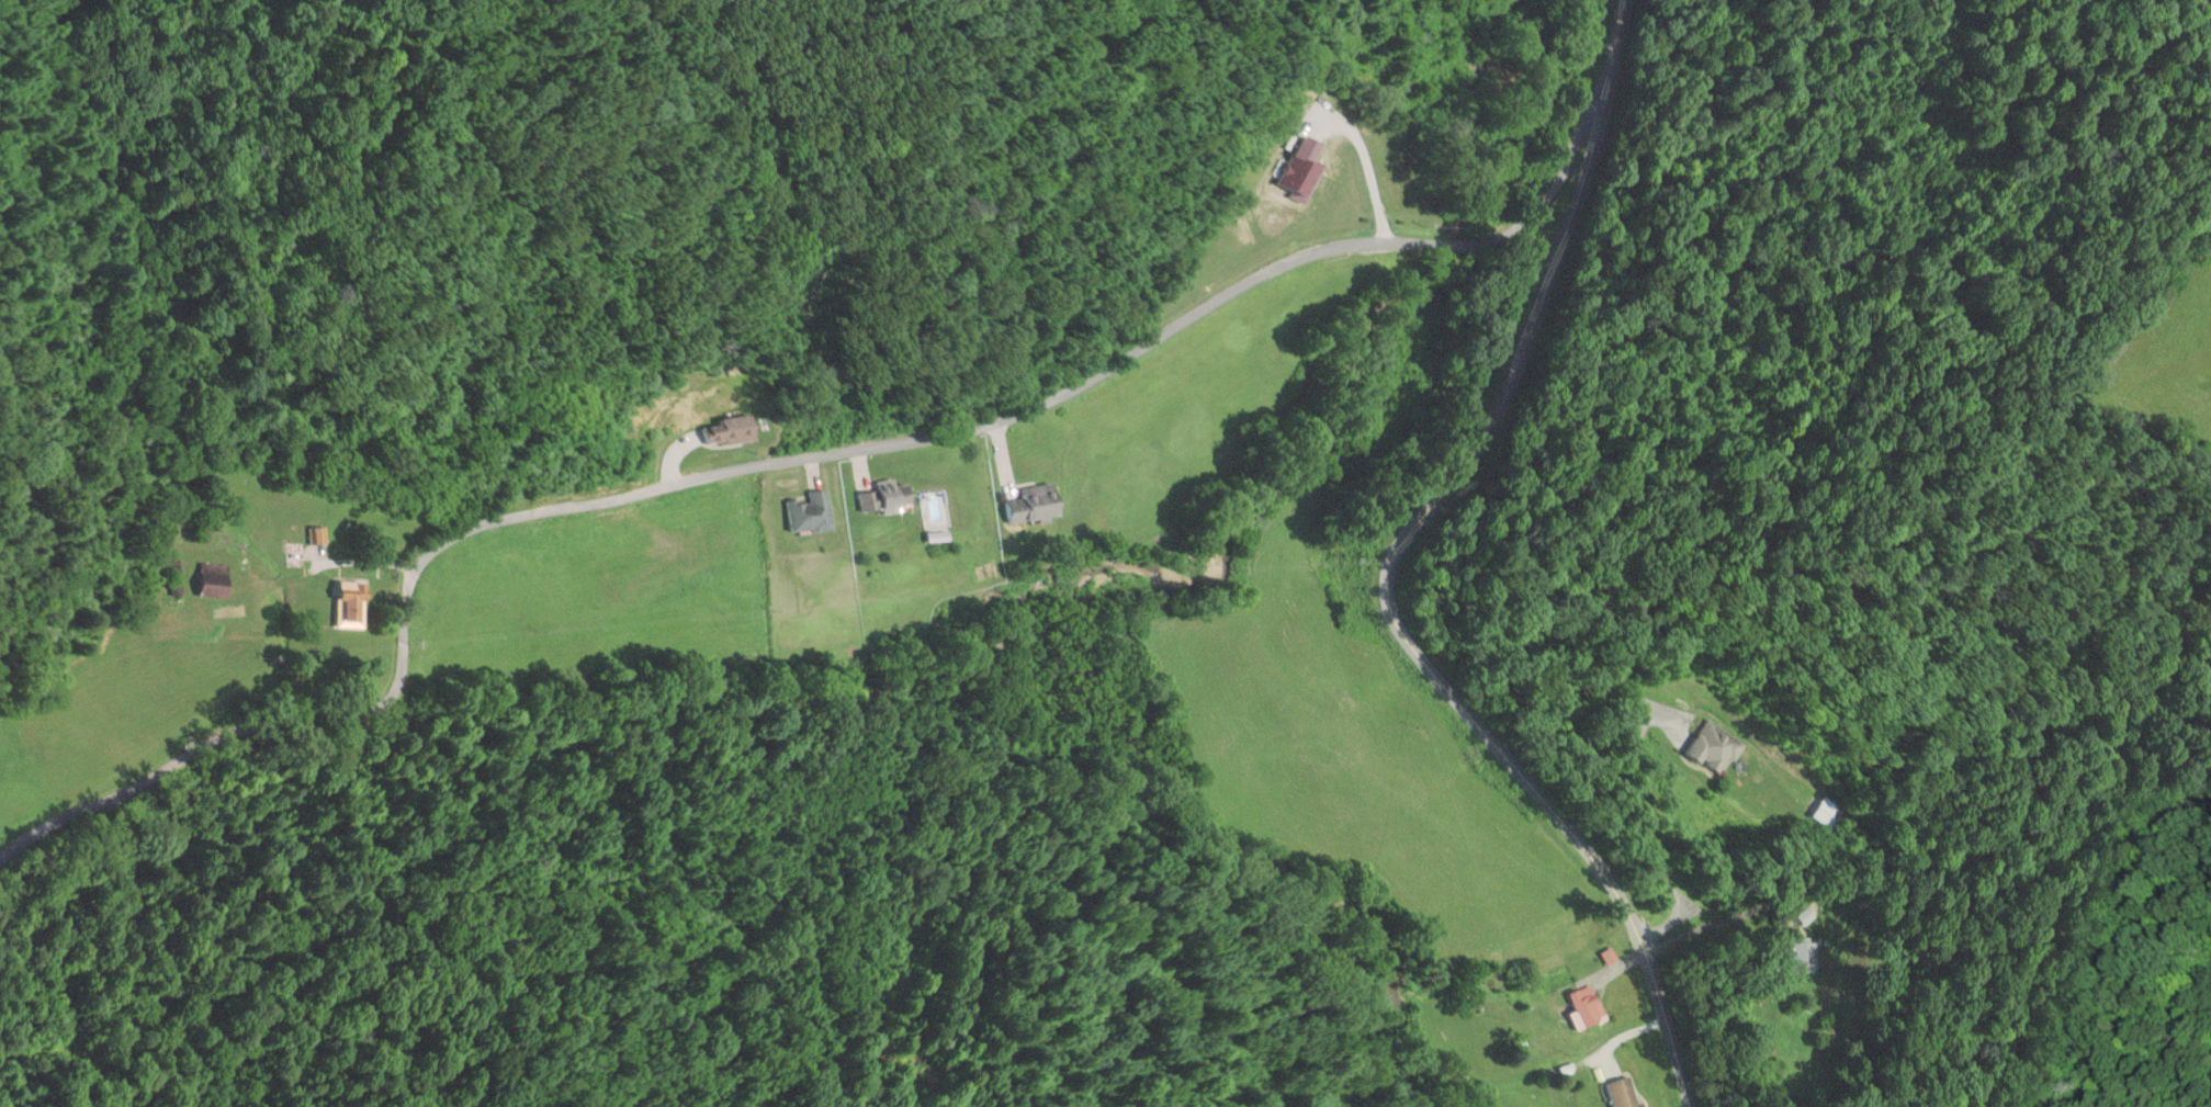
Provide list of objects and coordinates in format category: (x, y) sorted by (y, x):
building: (730, 431)
road: (778, 465)
building: (887, 498)
building: (1034, 505)
building: (811, 513)
building: (318, 535)
road: (1395, 573)
building: (205, 580)
building: (350, 605)
building: (1715, 748)
building: (1827, 813)
building: (1588, 1007)
building: (1623, 1093)

